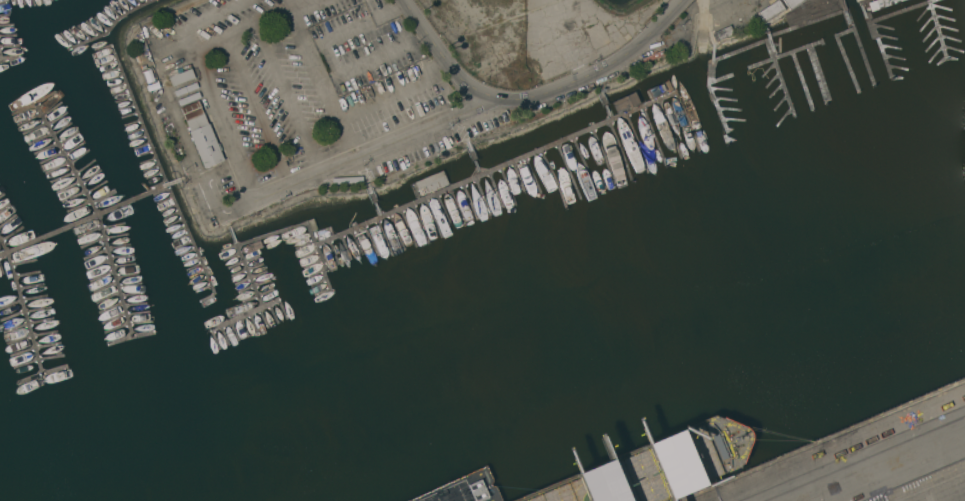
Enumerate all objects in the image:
building: (791, 3)
building: (881, 4)
building: (769, 11)
pier: (890, 16)
road: (658, 24)
pier: (114, 25)
road: (357, 26)
pier: (939, 31)
road: (242, 32)
building: (721, 34)
pier: (883, 50)
pier: (772, 52)
pier: (786, 54)
road: (374, 57)
building: (180, 75)
road: (322, 78)
building: (185, 89)
building: (657, 89)
road: (396, 95)
pier: (712, 95)
parking lot: (317, 98)
road: (168, 99)
building: (188, 99)
road: (289, 99)
road: (501, 100)
building: (624, 102)
road: (258, 113)
building: (200, 135)
pier: (161, 169)
pier: (496, 169)
building: (428, 183)
road: (209, 197)
road: (258, 199)
pier: (98, 214)
pier: (87, 218)
building: (314, 223)
pier: (295, 226)
building: (321, 230)
pier: (245, 269)
pier: (23, 304)
pier: (245, 314)

